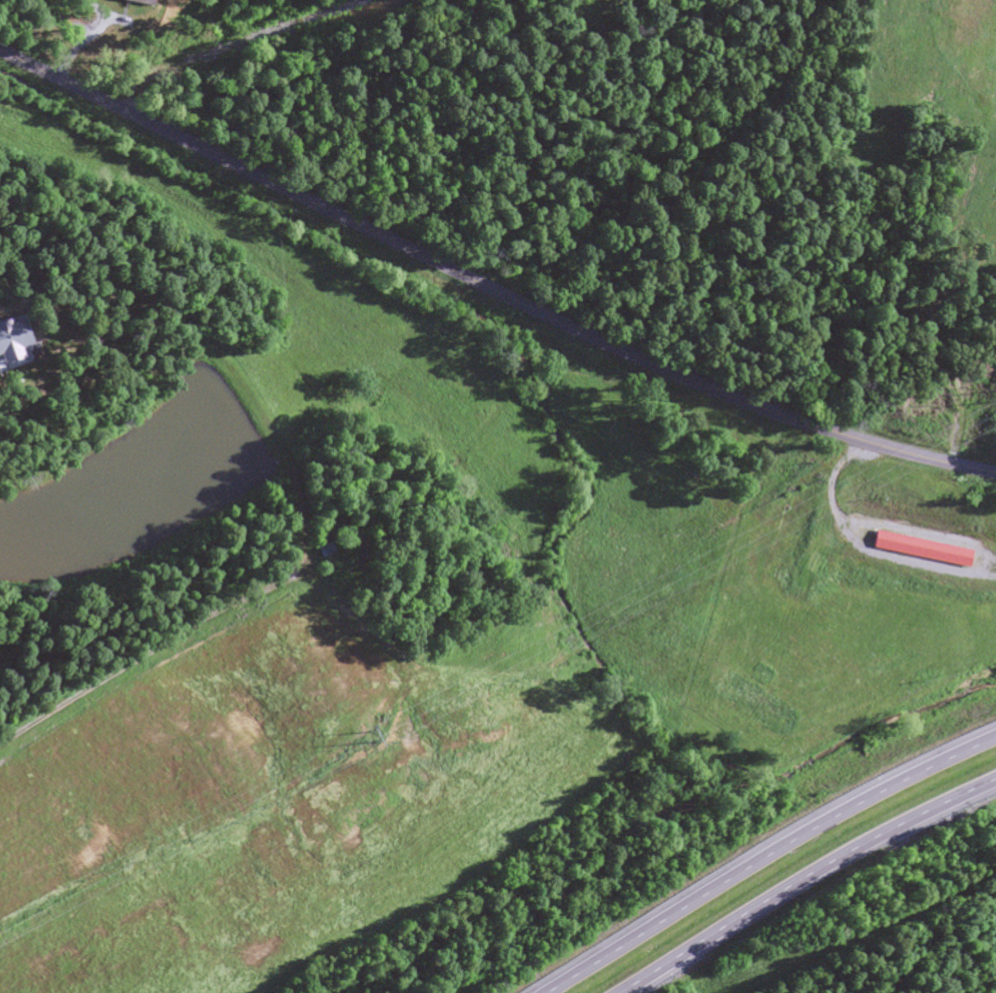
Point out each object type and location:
road: (488, 288)
power tower: (781, 517)
road: (864, 545)
building: (923, 545)
power tower: (363, 737)
road: (766, 856)
road: (805, 879)

